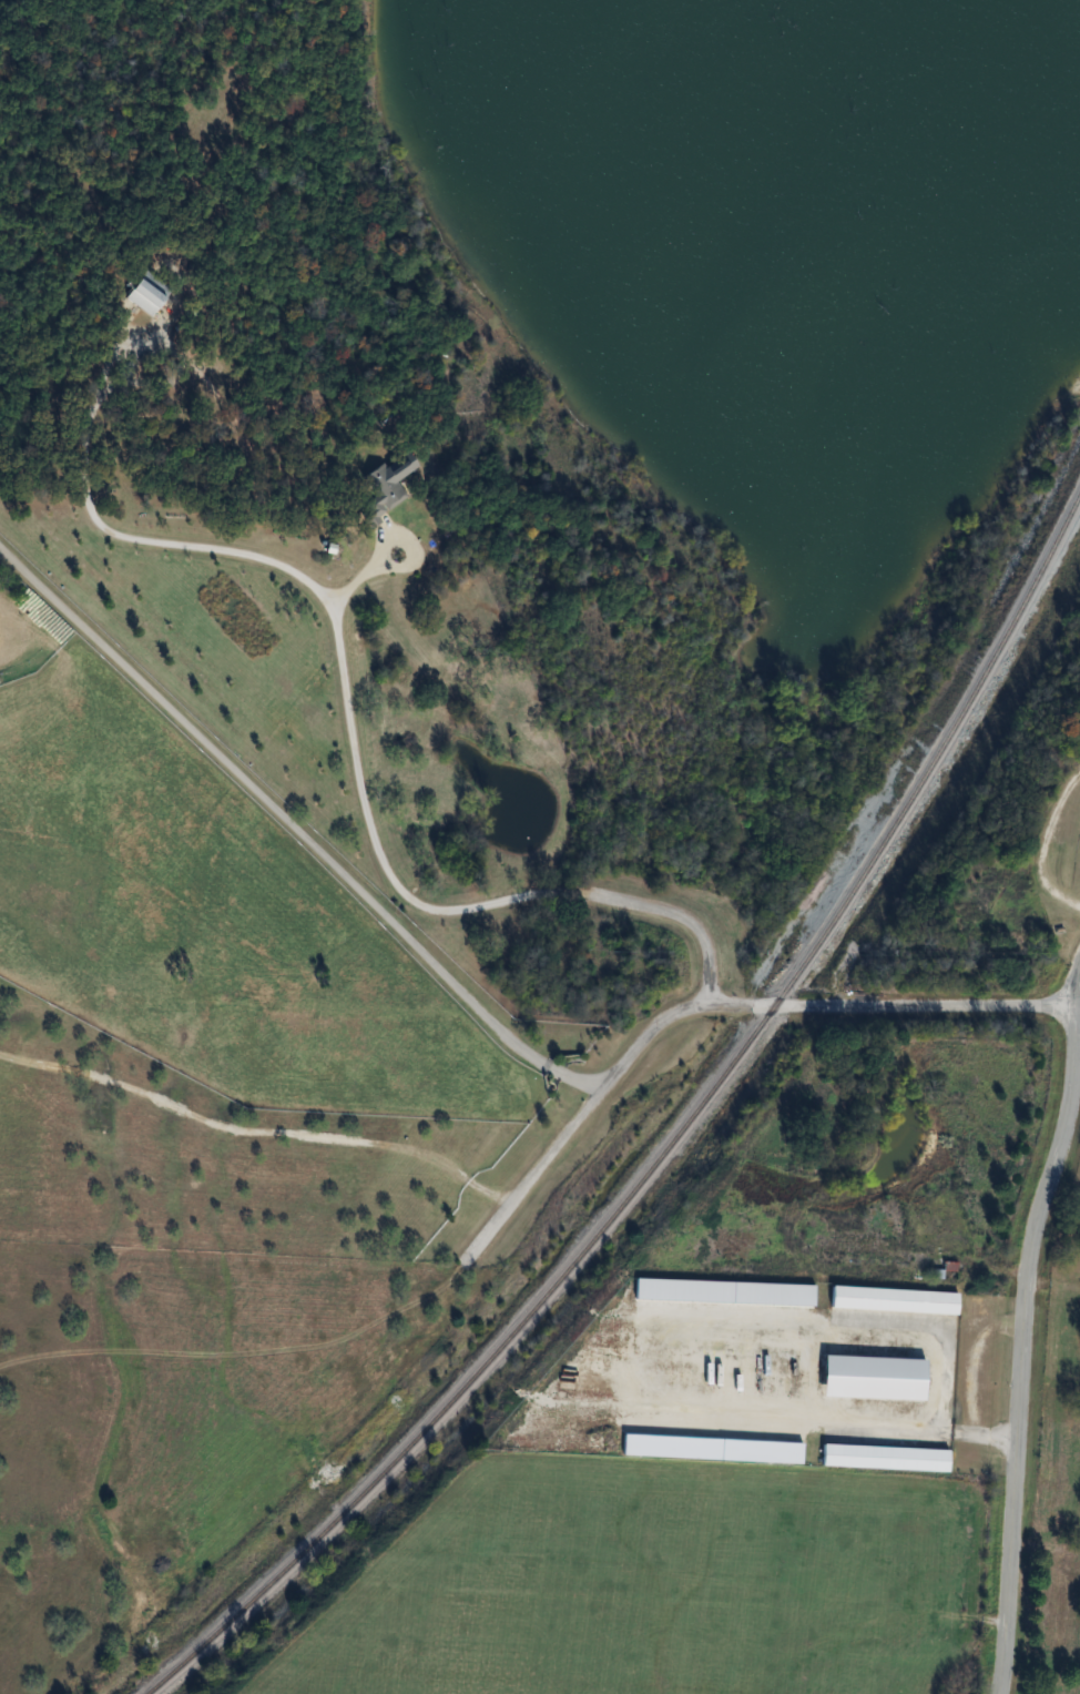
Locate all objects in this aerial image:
building: (146, 293)
building: (383, 484)
road: (354, 722)
road: (297, 824)
road: (745, 1002)
road: (259, 1130)
railway: (674, 1136)
building: (894, 1299)
road: (1016, 1327)
building: (884, 1457)

